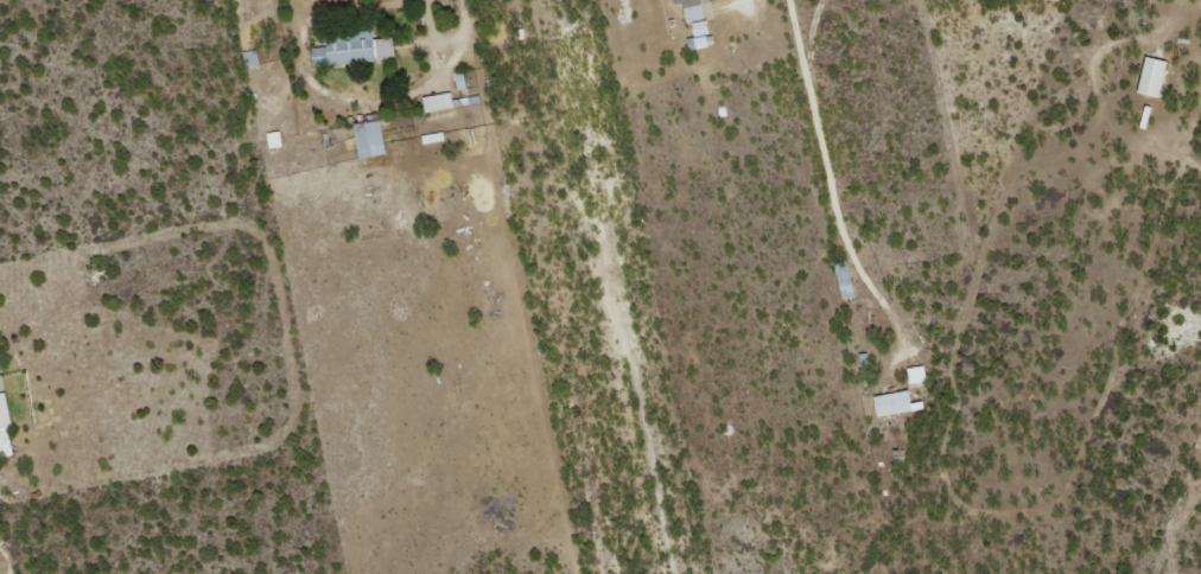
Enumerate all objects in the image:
building: (694, 20)
road: (446, 37)
building: (351, 49)
building: (1150, 76)
building: (436, 101)
building: (368, 138)
building: (274, 139)
railway: (604, 287)
building: (915, 374)
building: (894, 402)
building: (7, 427)

